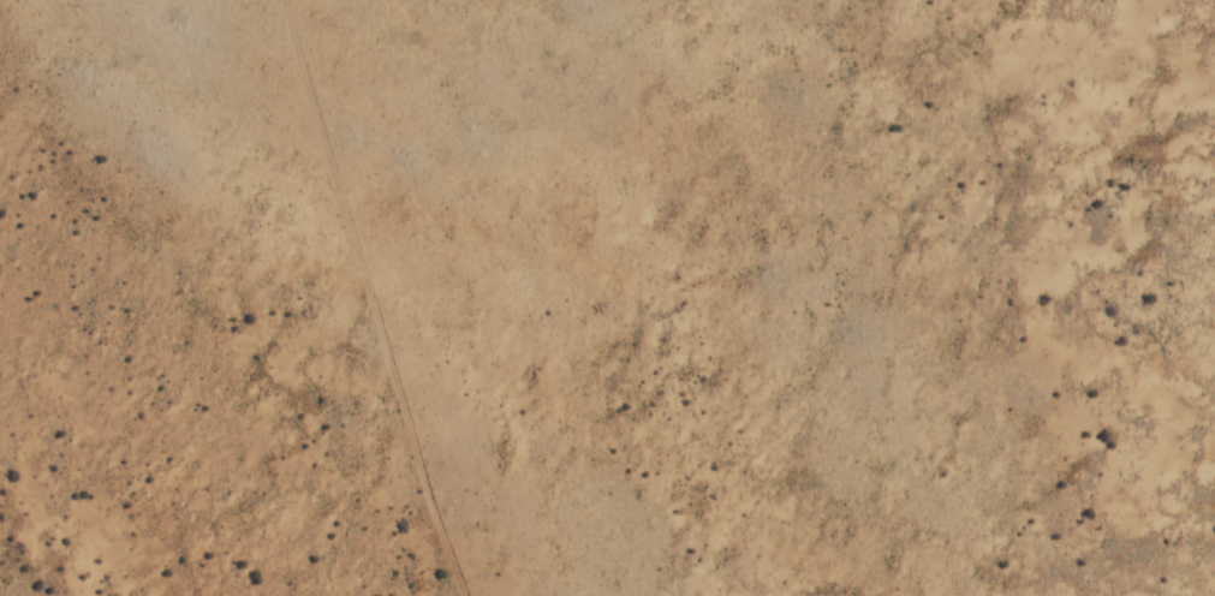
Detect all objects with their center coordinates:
road: (156, 297)

